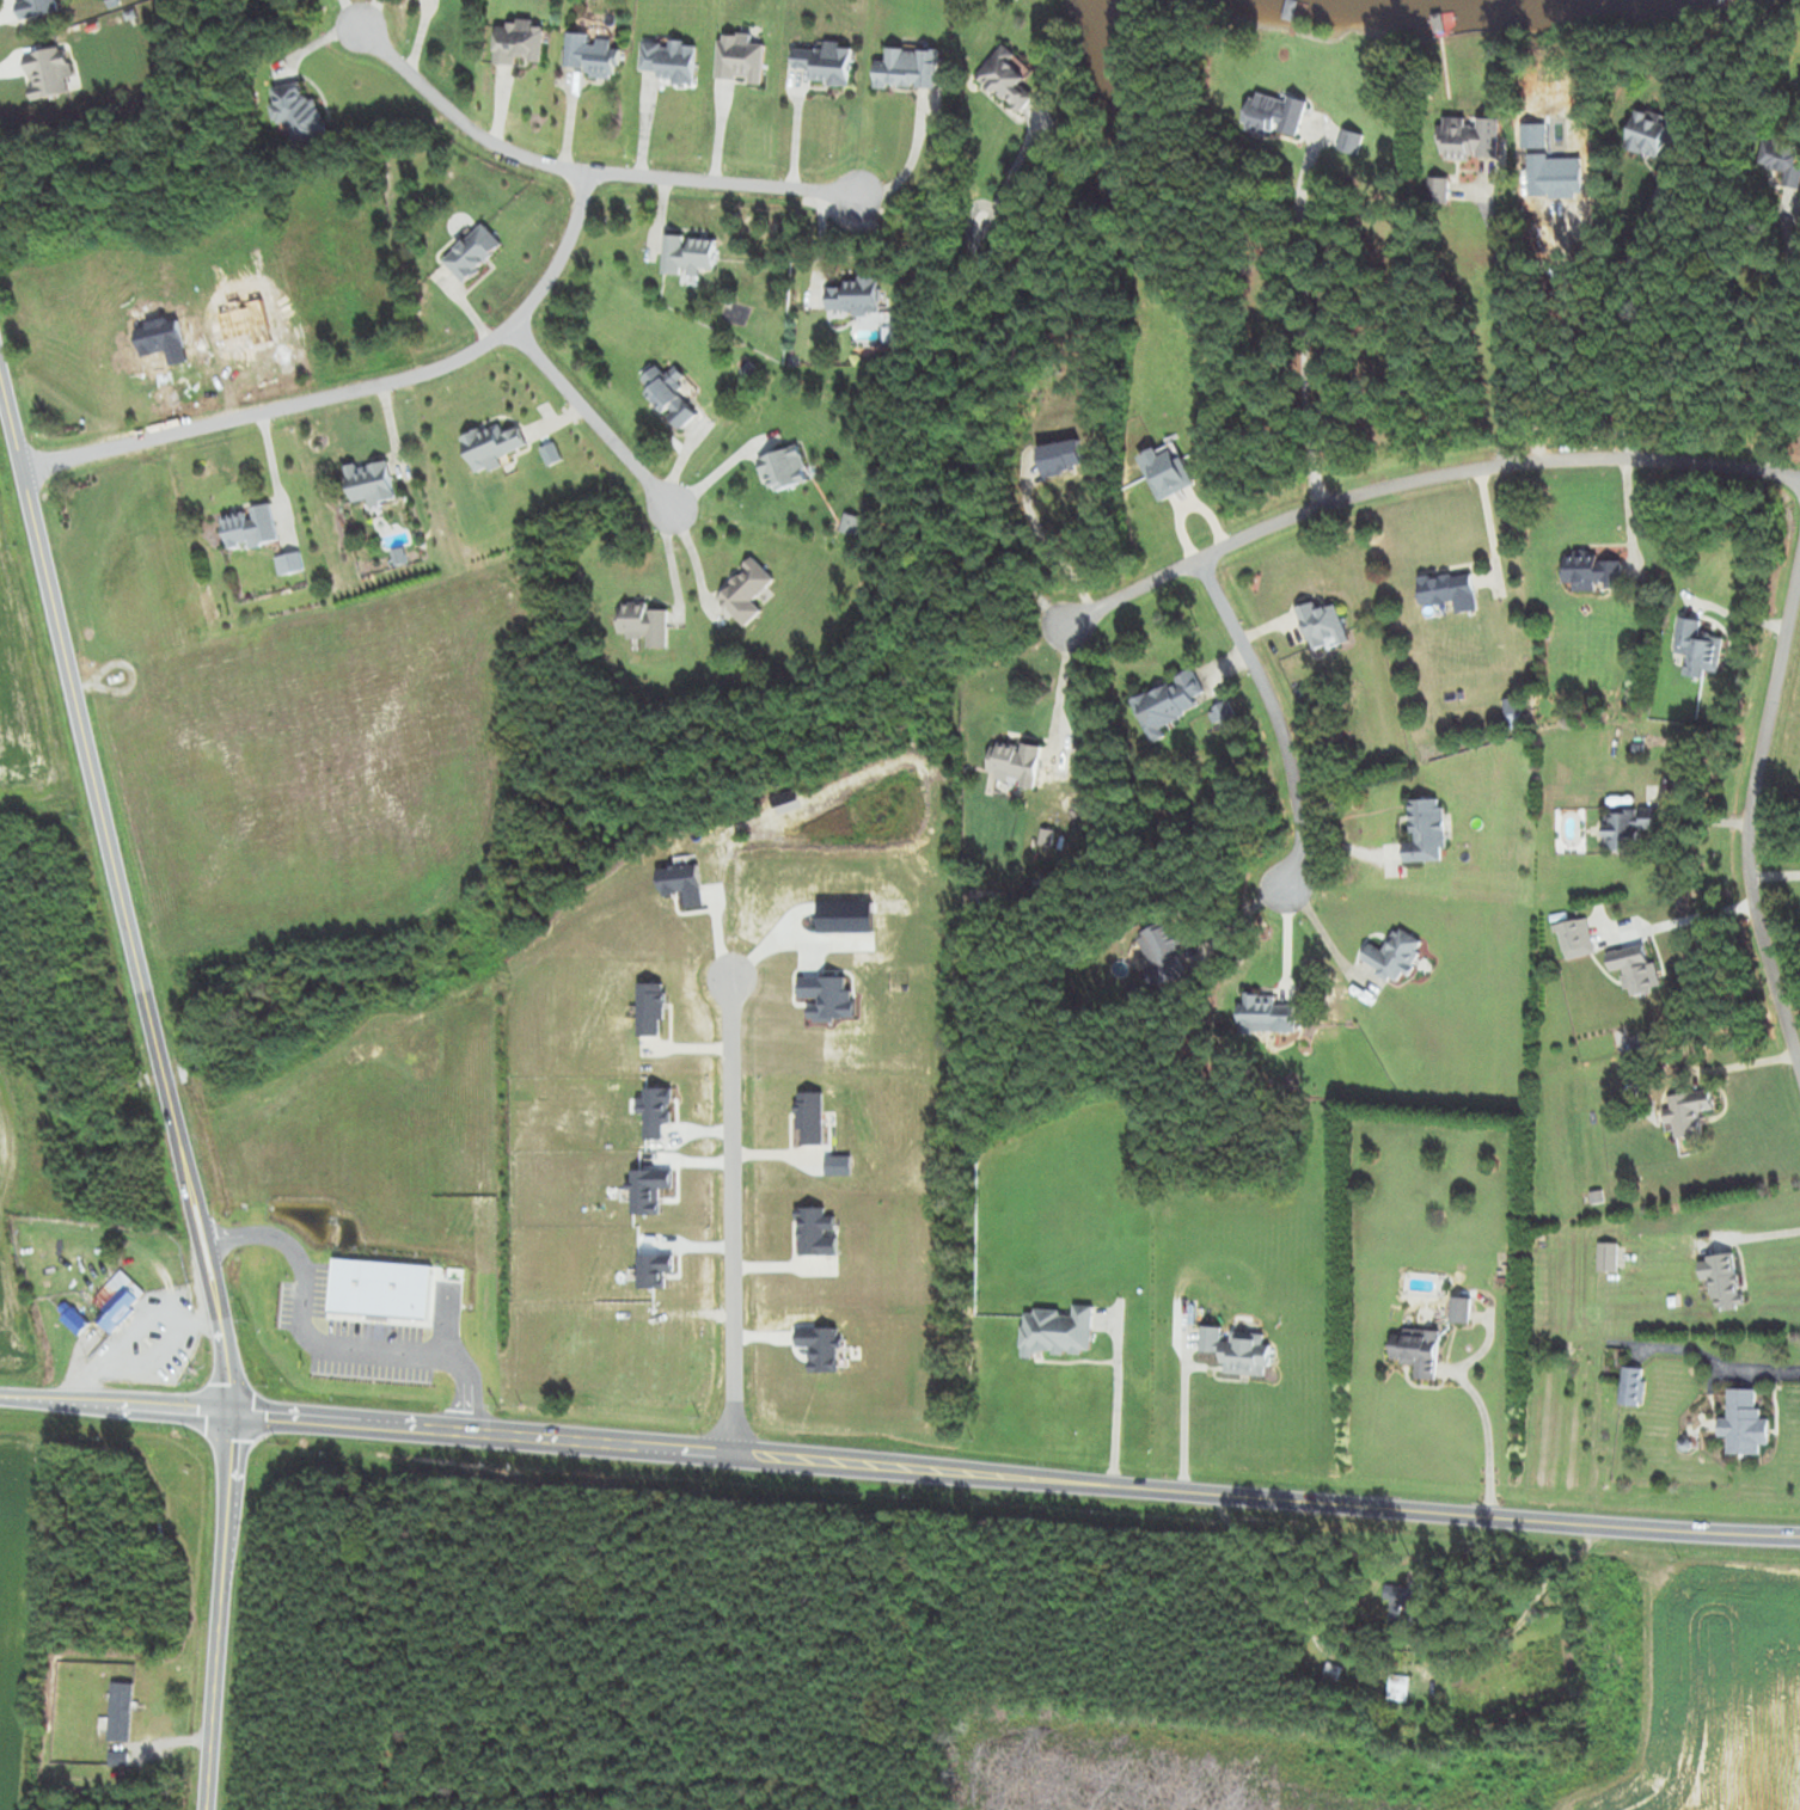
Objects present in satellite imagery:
building: (36, 6)
building: (518, 42)
building: (592, 55)
building: (739, 59)
building: (669, 60)
building: (825, 63)
building: (907, 68)
building: (48, 72)
building: (1005, 78)
building: (298, 112)
building: (1276, 113)
building: (1648, 131)
building: (1470, 137)
building: (1349, 141)
building: (1783, 159)
road: (586, 172)
building: (1439, 189)
building: (472, 253)
building: (687, 254)
building: (855, 296)
road: (1618, 319)
road: (1498, 325)
road: (355, 392)
building: (668, 398)
road: (588, 417)
building: (491, 447)
building: (784, 468)
road: (1407, 481)
building: (371, 483)
road: (29, 514)
building: (849, 524)
building: (249, 527)
road: (1039, 536)
building: (289, 564)
building: (1592, 572)
building: (1450, 591)
building: (745, 593)
building: (644, 625)
building: (1322, 627)
building: (1698, 649)
building: (1168, 705)
building: (1224, 717)
road: (1278, 724)
building: (1014, 763)
road: (1750, 811)
building: (1630, 827)
building: (1426, 833)
building: (1575, 939)
building: (1163, 956)
building: (1394, 956)
building: (1636, 969)
building: (1266, 1014)
building: (1688, 1113)
road: (727, 1217)
road: (197, 1219)
building: (1608, 1258)
building: (1722, 1281)
building: (117, 1300)
building: (1461, 1311)
building: (71, 1318)
building: (1059, 1332)
building: (1237, 1351)
building: (1418, 1351)
building: (1633, 1387)
road: (1115, 1397)
traffic signals: (233, 1415)
road: (1183, 1422)
building: (1745, 1424)
road: (525, 1436)
road: (1425, 1509)
building: (1404, 1603)
building: (1398, 1688)

